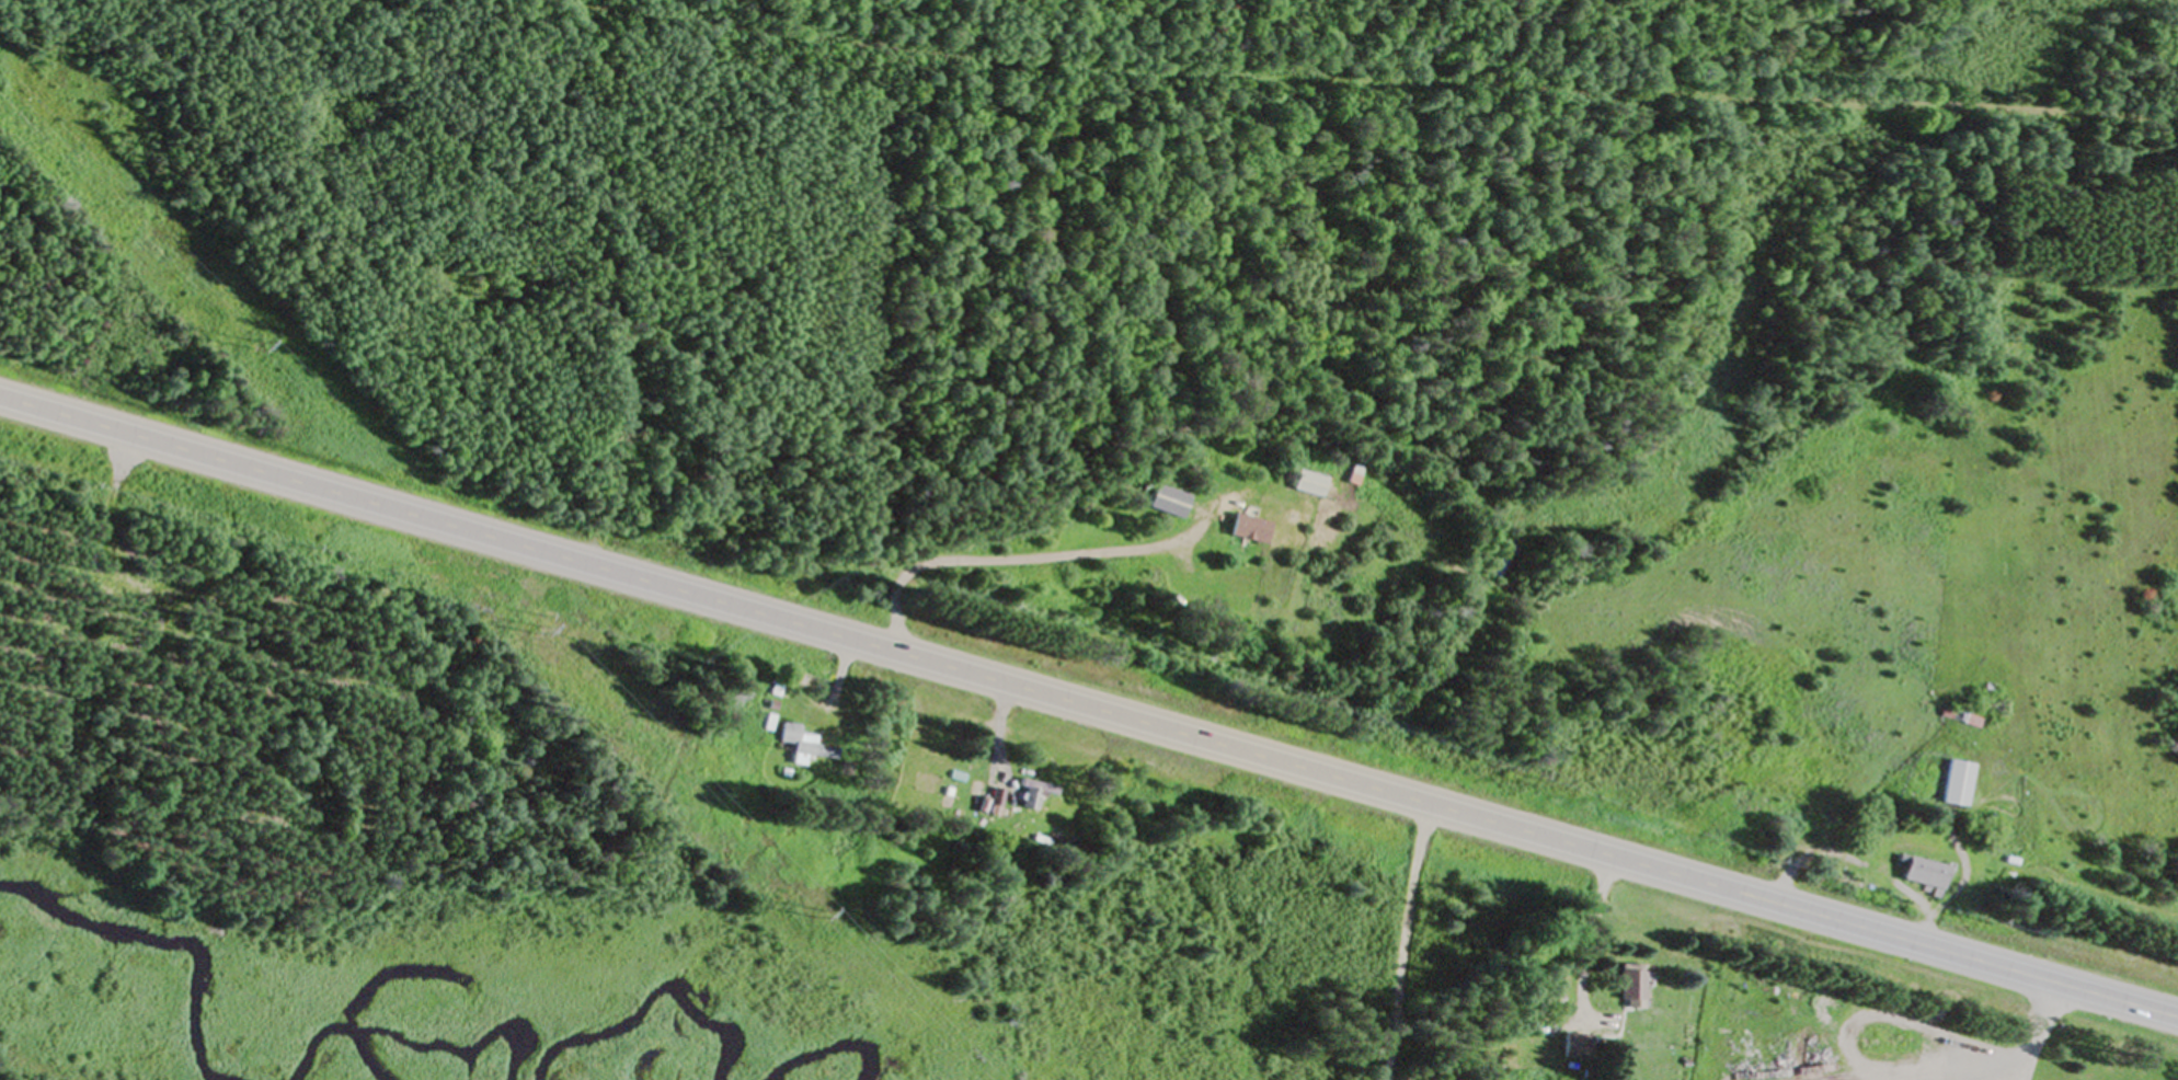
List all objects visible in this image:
road: (1367, 87)
power tower: (255, 347)
building: (1353, 478)
building: (1307, 485)
building: (1161, 502)
building: (1248, 530)
power tower: (536, 633)
road: (1089, 706)
building: (802, 746)
building: (1953, 786)
building: (1032, 794)
building: (994, 804)
building: (1918, 875)
power tower: (816, 915)
road: (1408, 942)
building: (1627, 987)
building: (1572, 1047)

